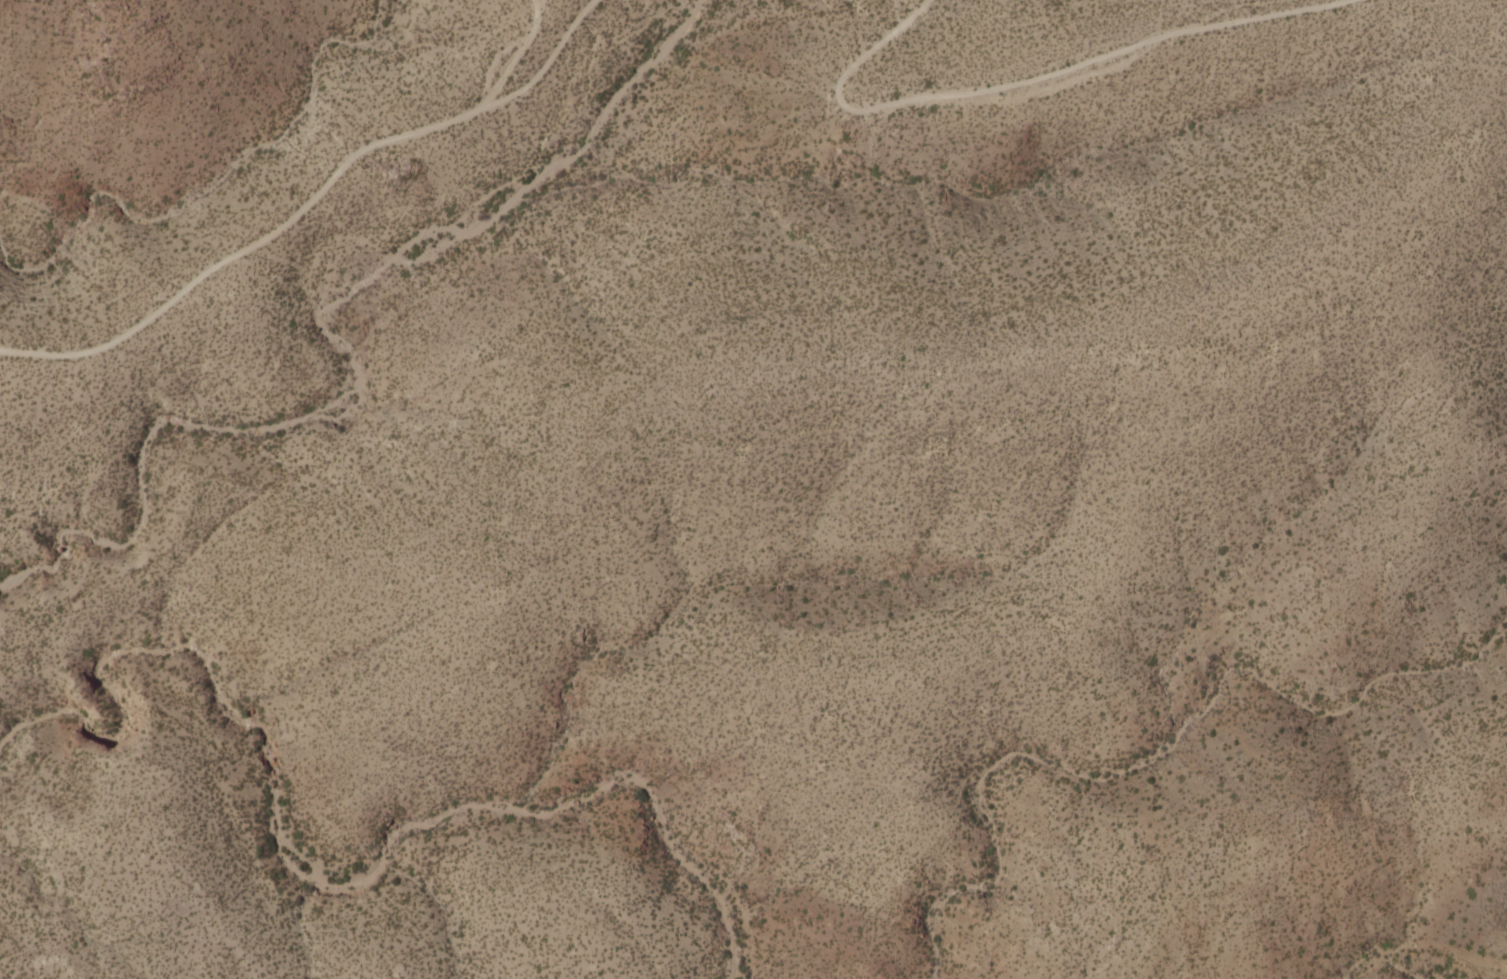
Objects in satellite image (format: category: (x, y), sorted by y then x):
road: (516, 56)
road: (1011, 86)
road: (310, 195)

